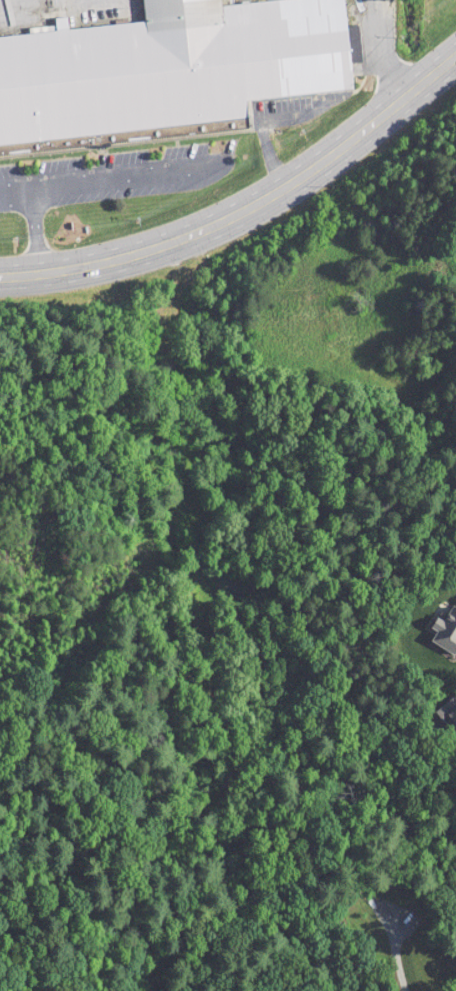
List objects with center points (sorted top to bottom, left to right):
road: (378, 50)
building: (168, 68)
road: (267, 153)
road: (211, 167)
road: (13, 177)
road: (15, 197)
road: (247, 205)
road: (33, 225)
building: (452, 714)

